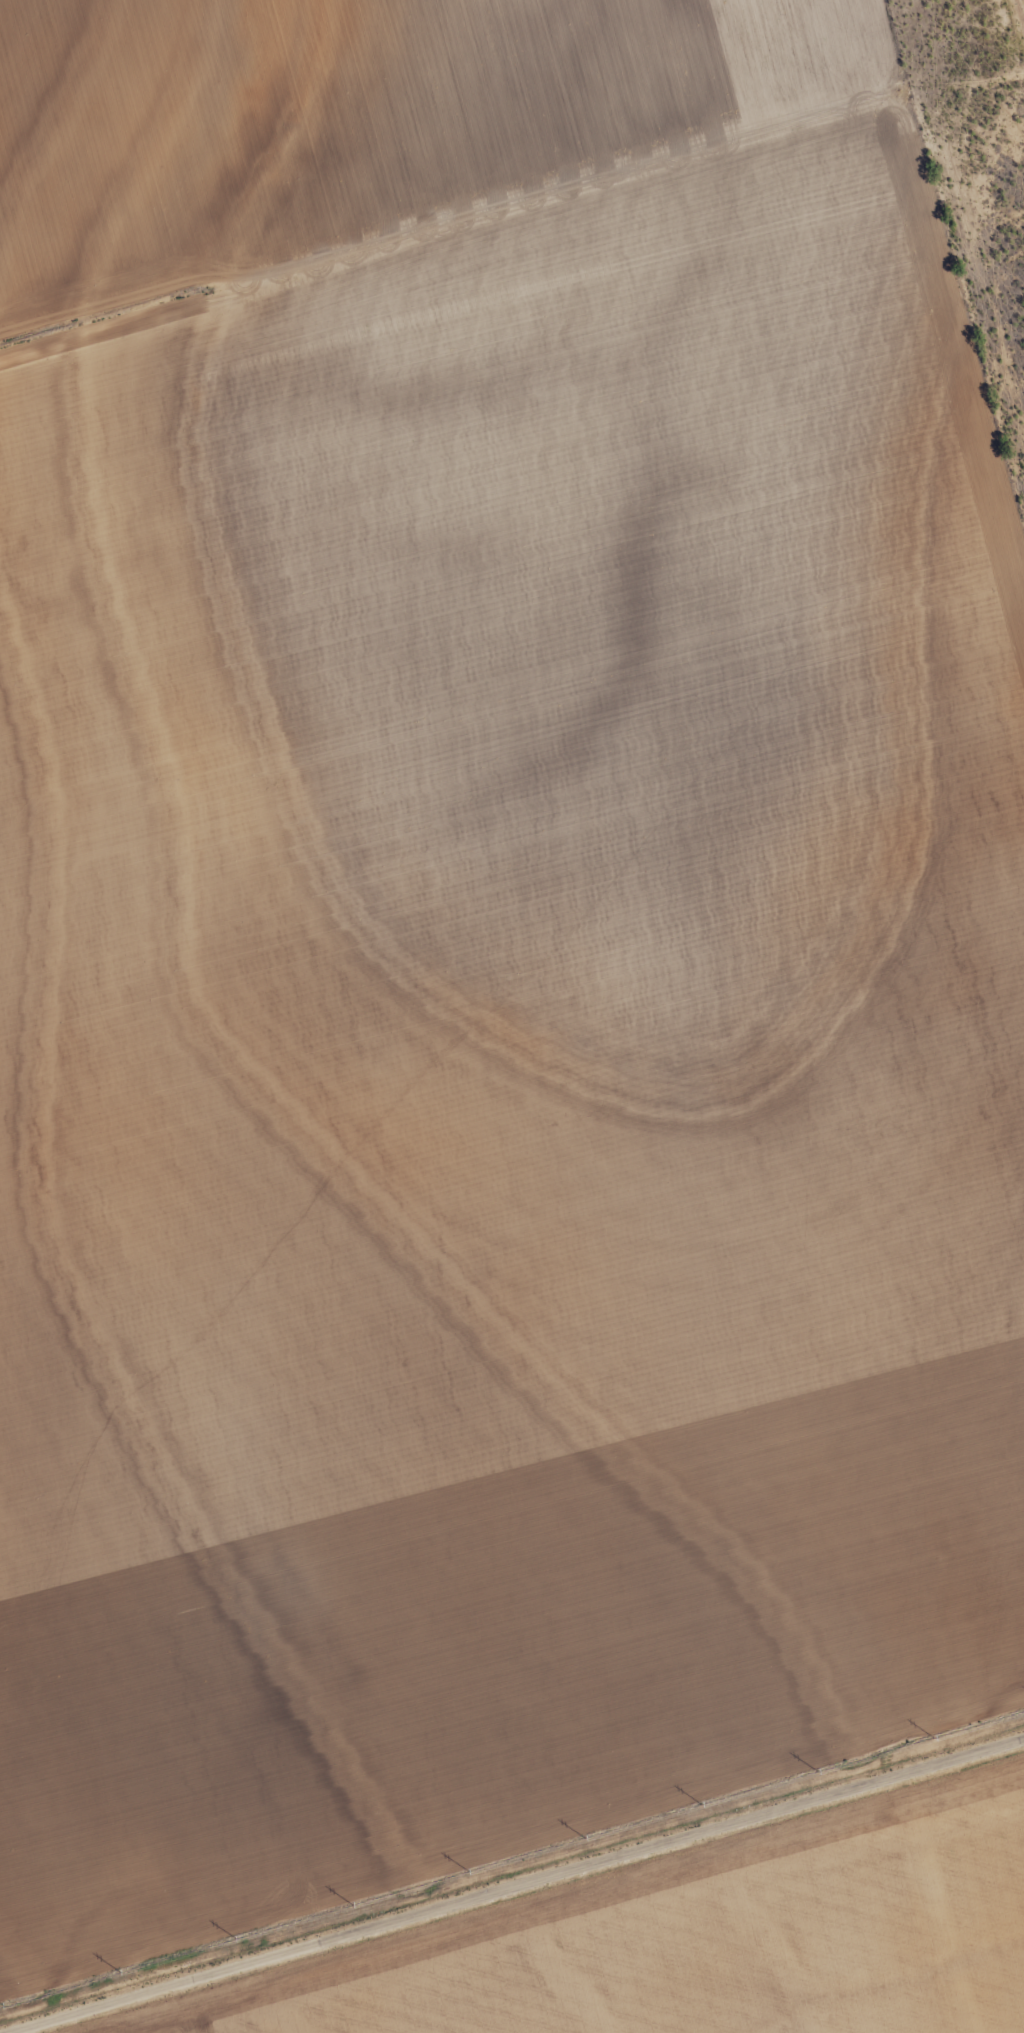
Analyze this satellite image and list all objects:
road: (512, 1875)

